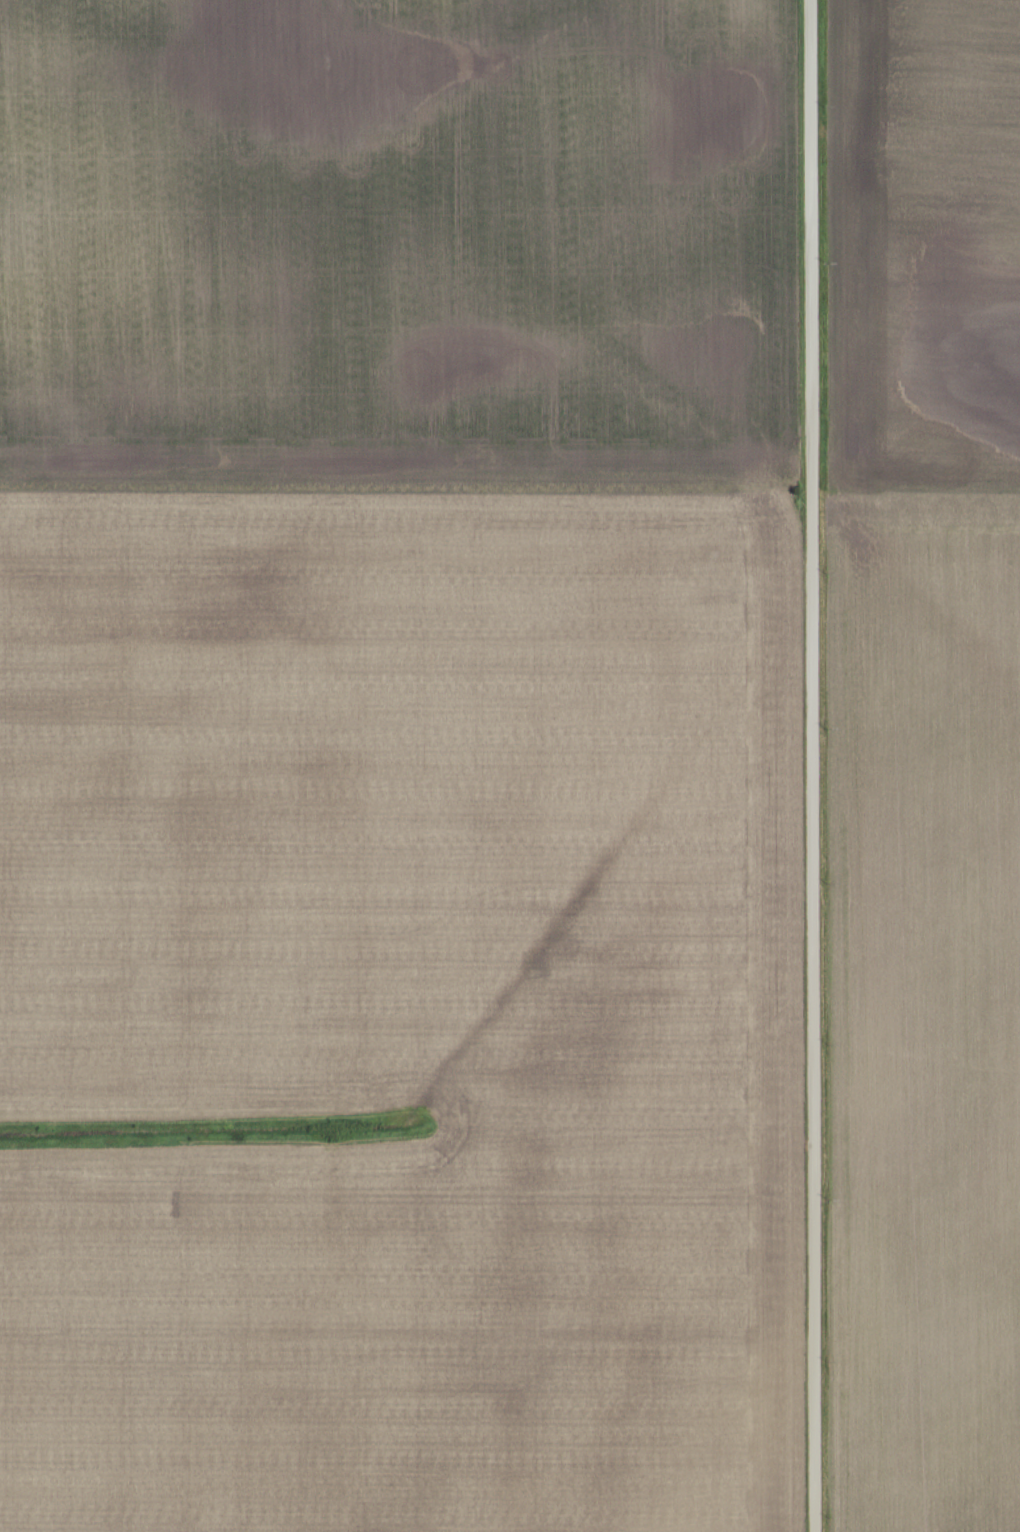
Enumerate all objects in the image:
road: (803, 766)

